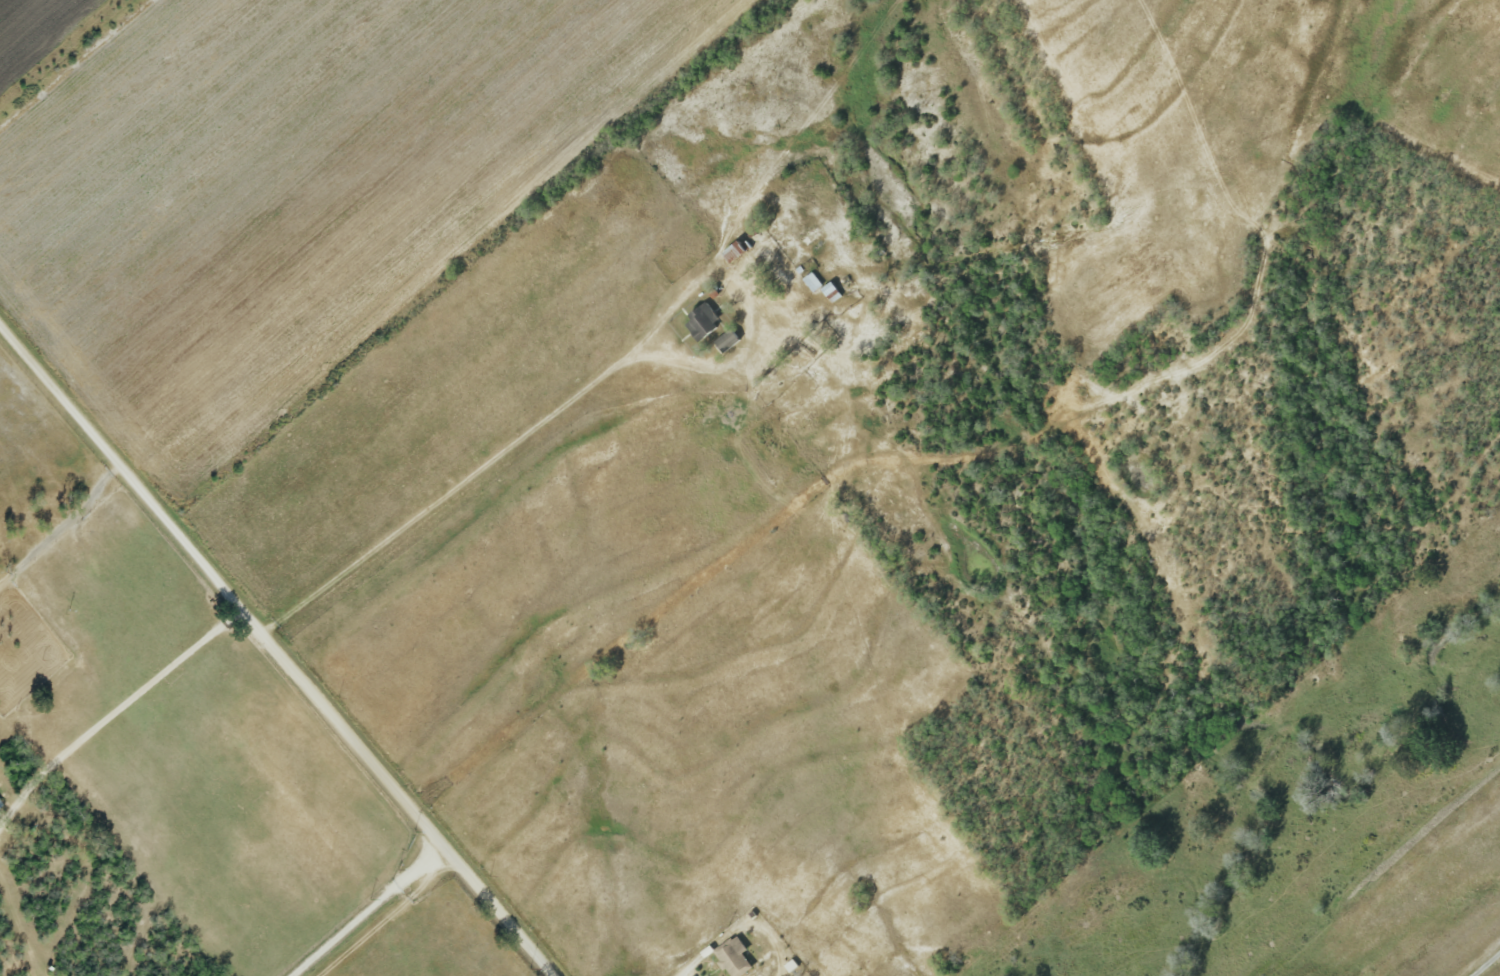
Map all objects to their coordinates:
building: (812, 282)
building: (701, 322)
road: (577, 396)
road: (63, 528)
road: (275, 652)
road: (112, 713)
building: (733, 959)
road: (1487, 965)
road: (685, 974)

